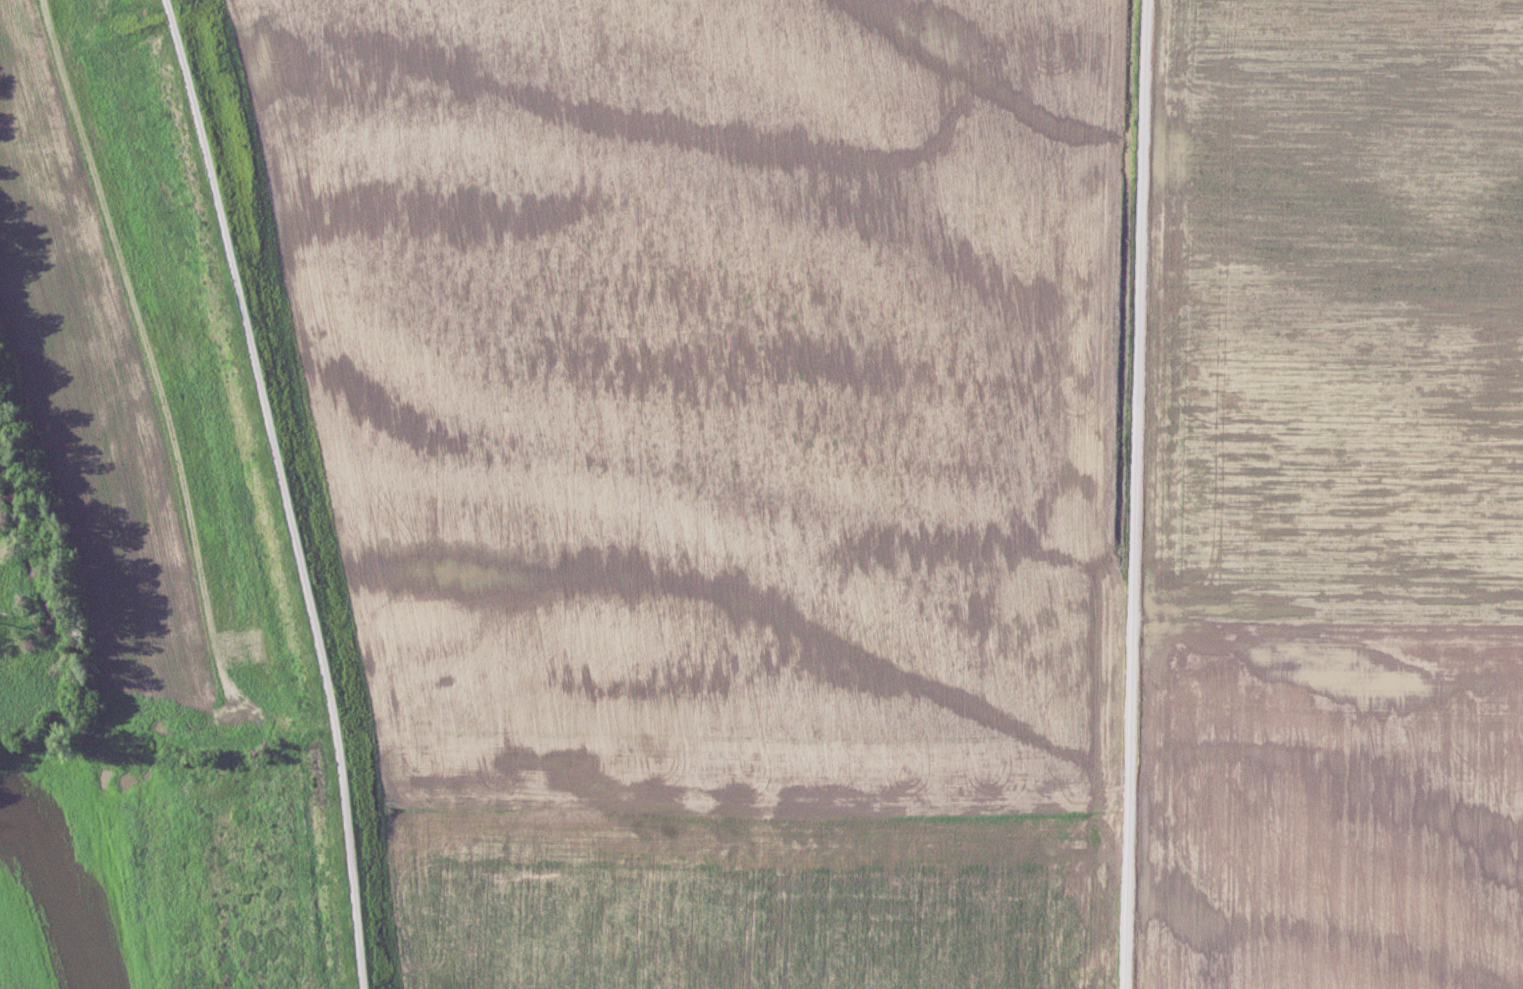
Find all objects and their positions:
road: (285, 490)
road: (1134, 494)

